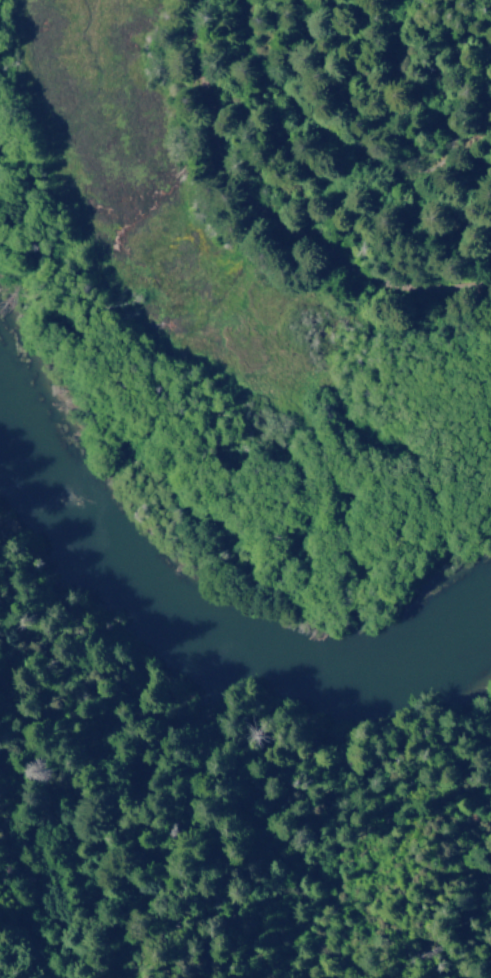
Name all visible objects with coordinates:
road: (378, 159)
road: (273, 214)

